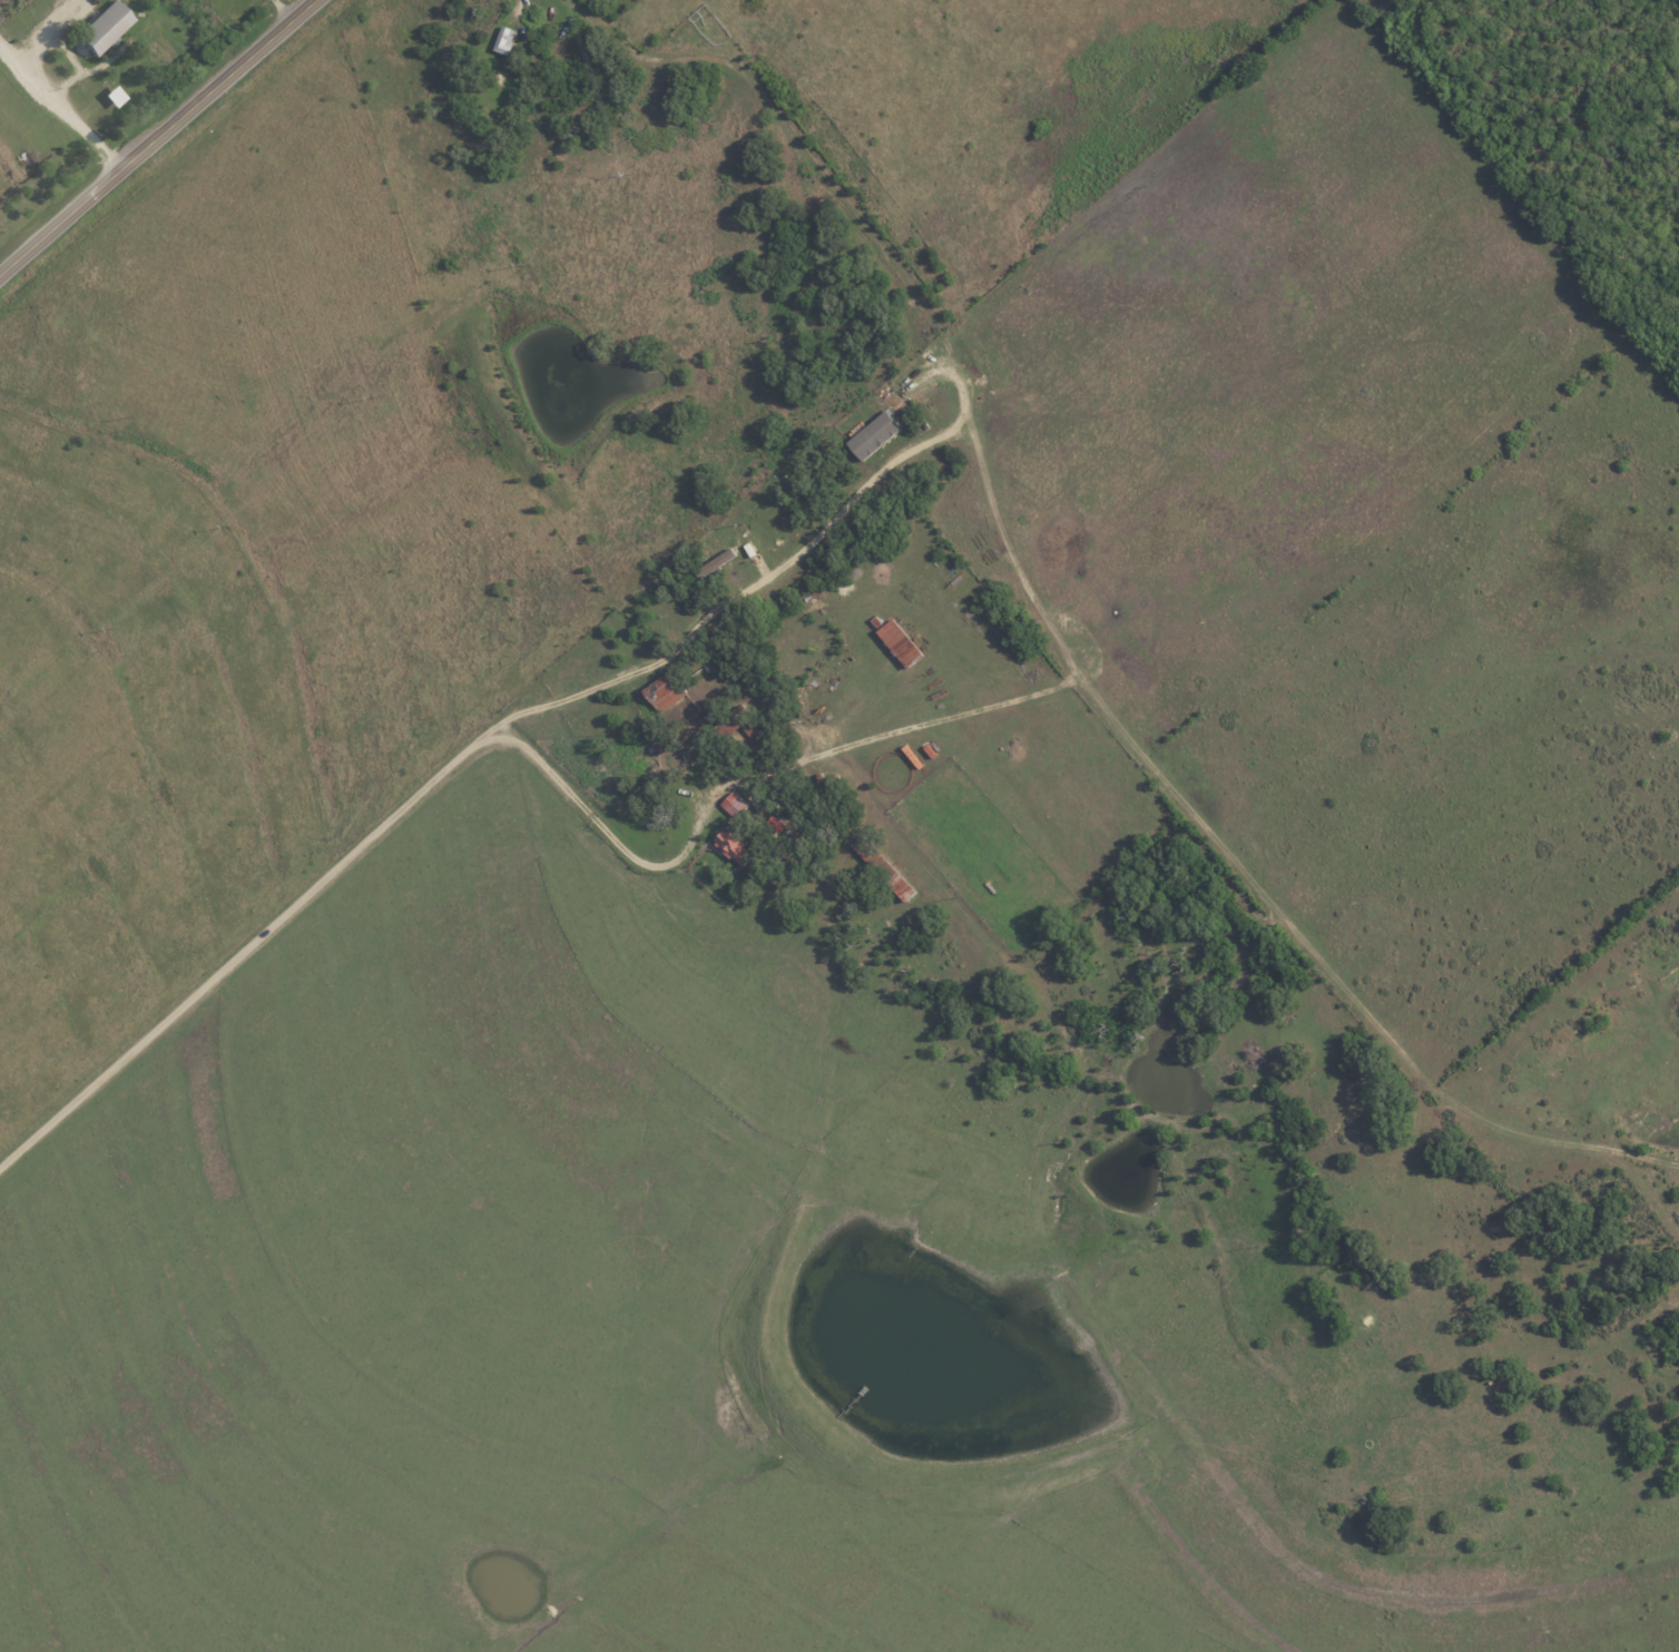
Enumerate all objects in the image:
road: (287, 9)
building: (101, 27)
building: (502, 39)
building: (112, 96)
road: (766, 98)
road: (60, 100)
road: (159, 138)
building: (871, 434)
road: (760, 579)
building: (896, 641)
building: (674, 705)
building: (732, 804)
building: (730, 846)
road: (352, 848)
building: (891, 877)

